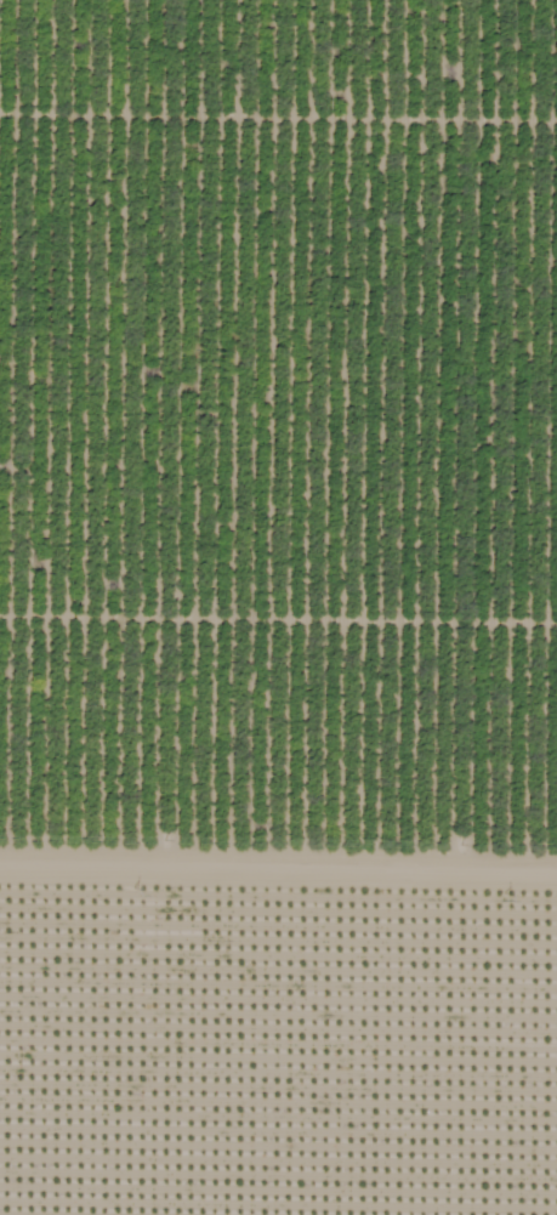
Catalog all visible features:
road: (278, 833)
crop: (278, 1011)

